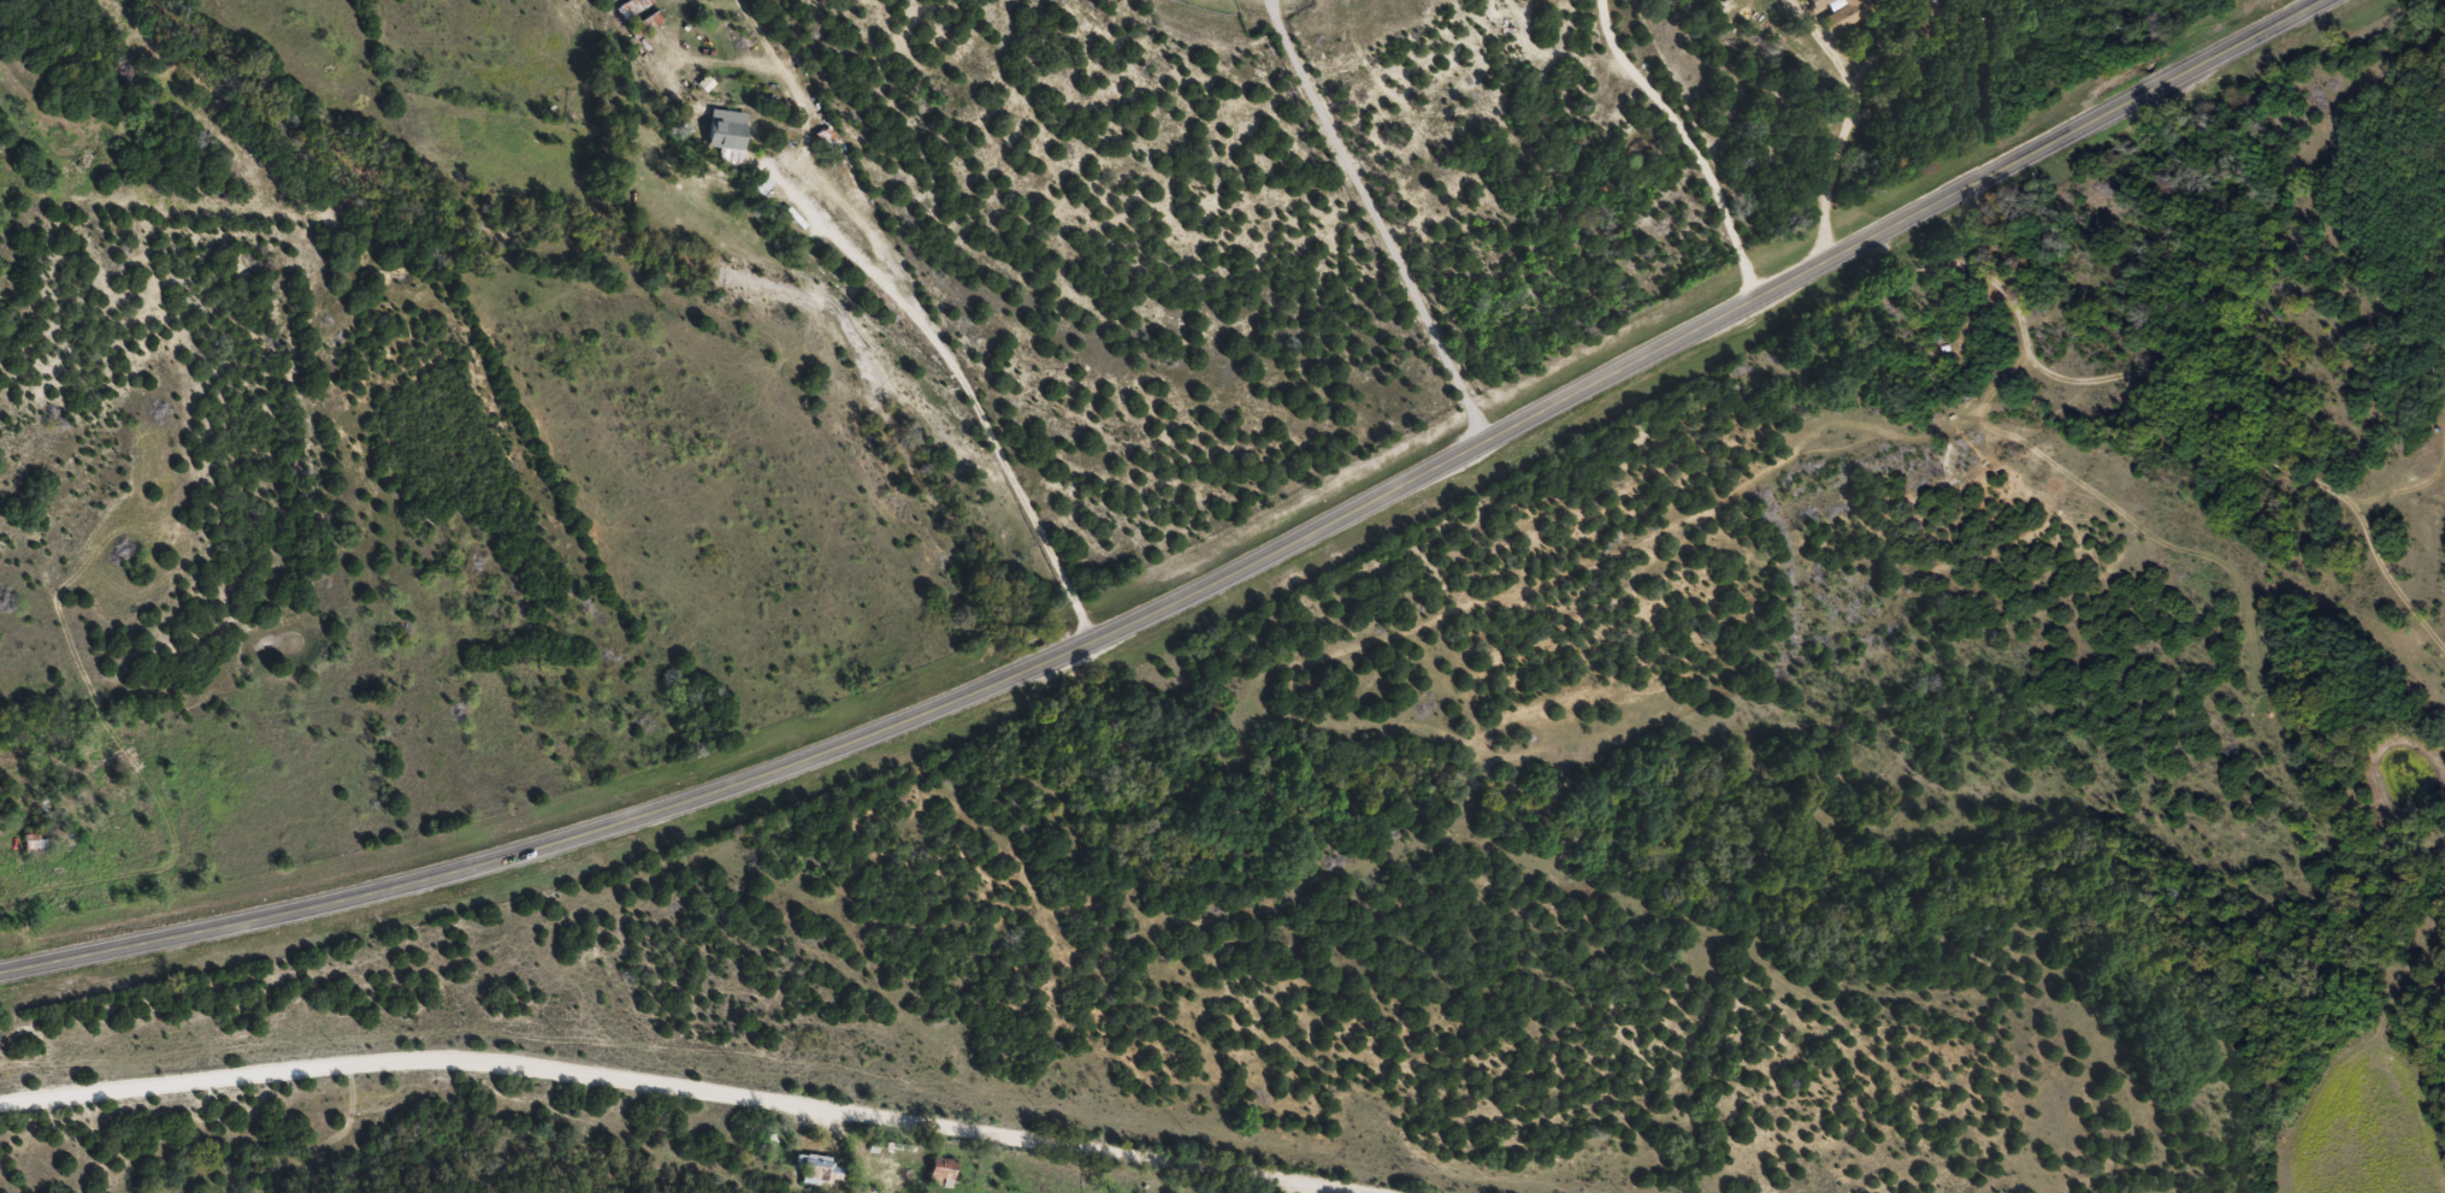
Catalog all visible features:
building: (1841, 13)
road: (692, 37)
building: (732, 136)
road: (1690, 144)
road: (827, 338)
road: (1198, 586)
road: (660, 1093)
building: (821, 1170)
building: (944, 1173)

